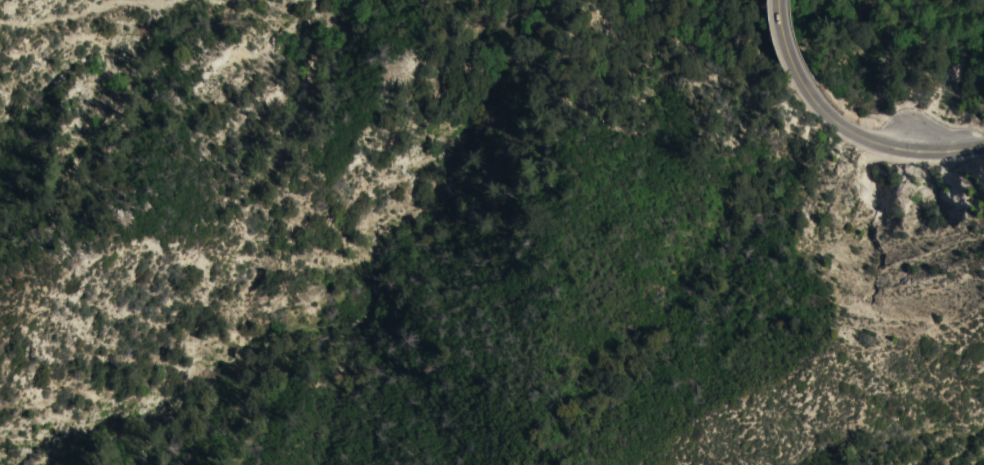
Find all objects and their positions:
road: (782, 39)
road: (879, 143)

